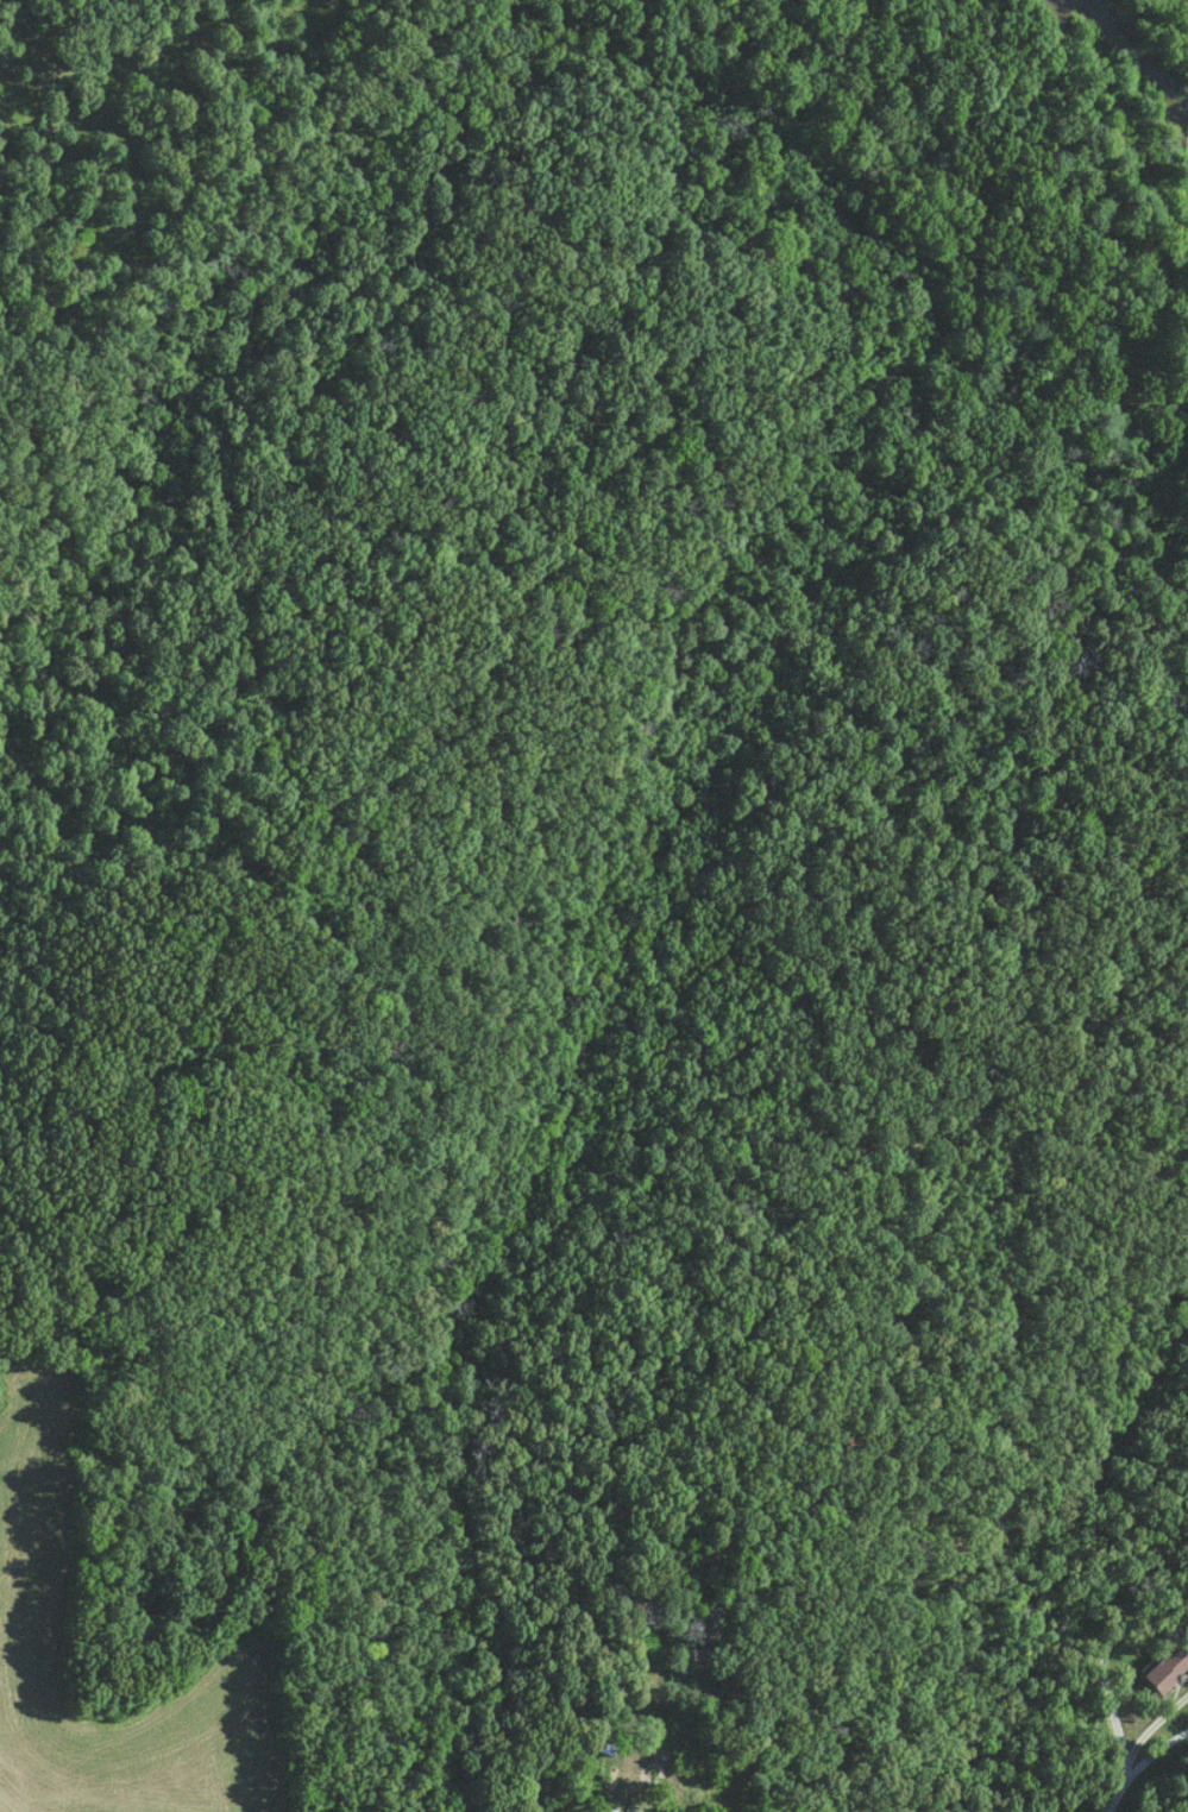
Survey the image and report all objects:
road: (1104, 1675)
road: (1139, 1764)

